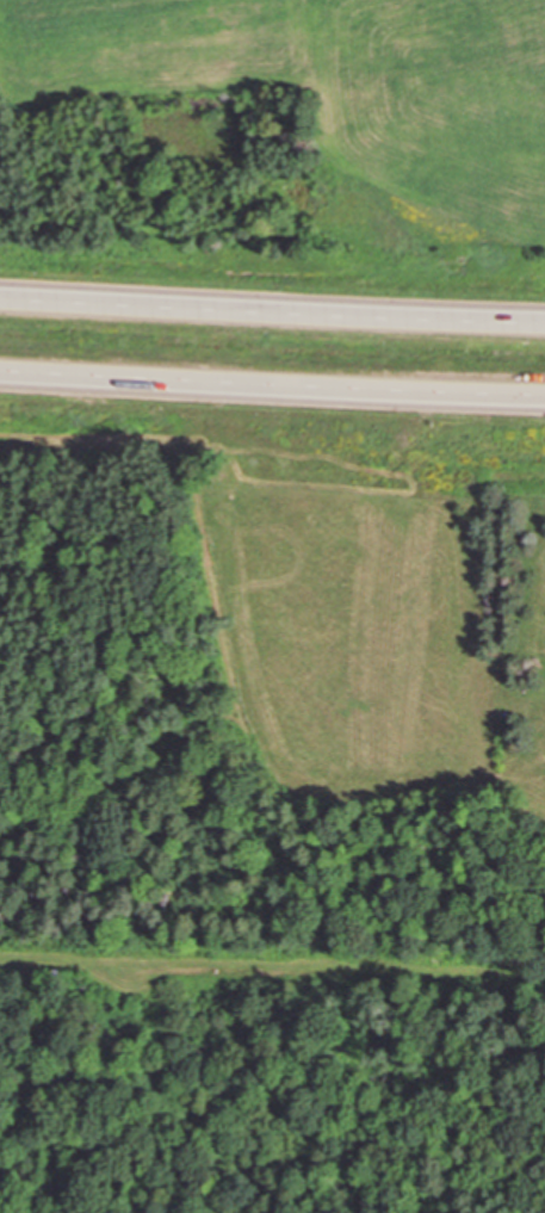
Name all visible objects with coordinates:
crop: (156, 44)
road: (272, 311)
road: (272, 388)

